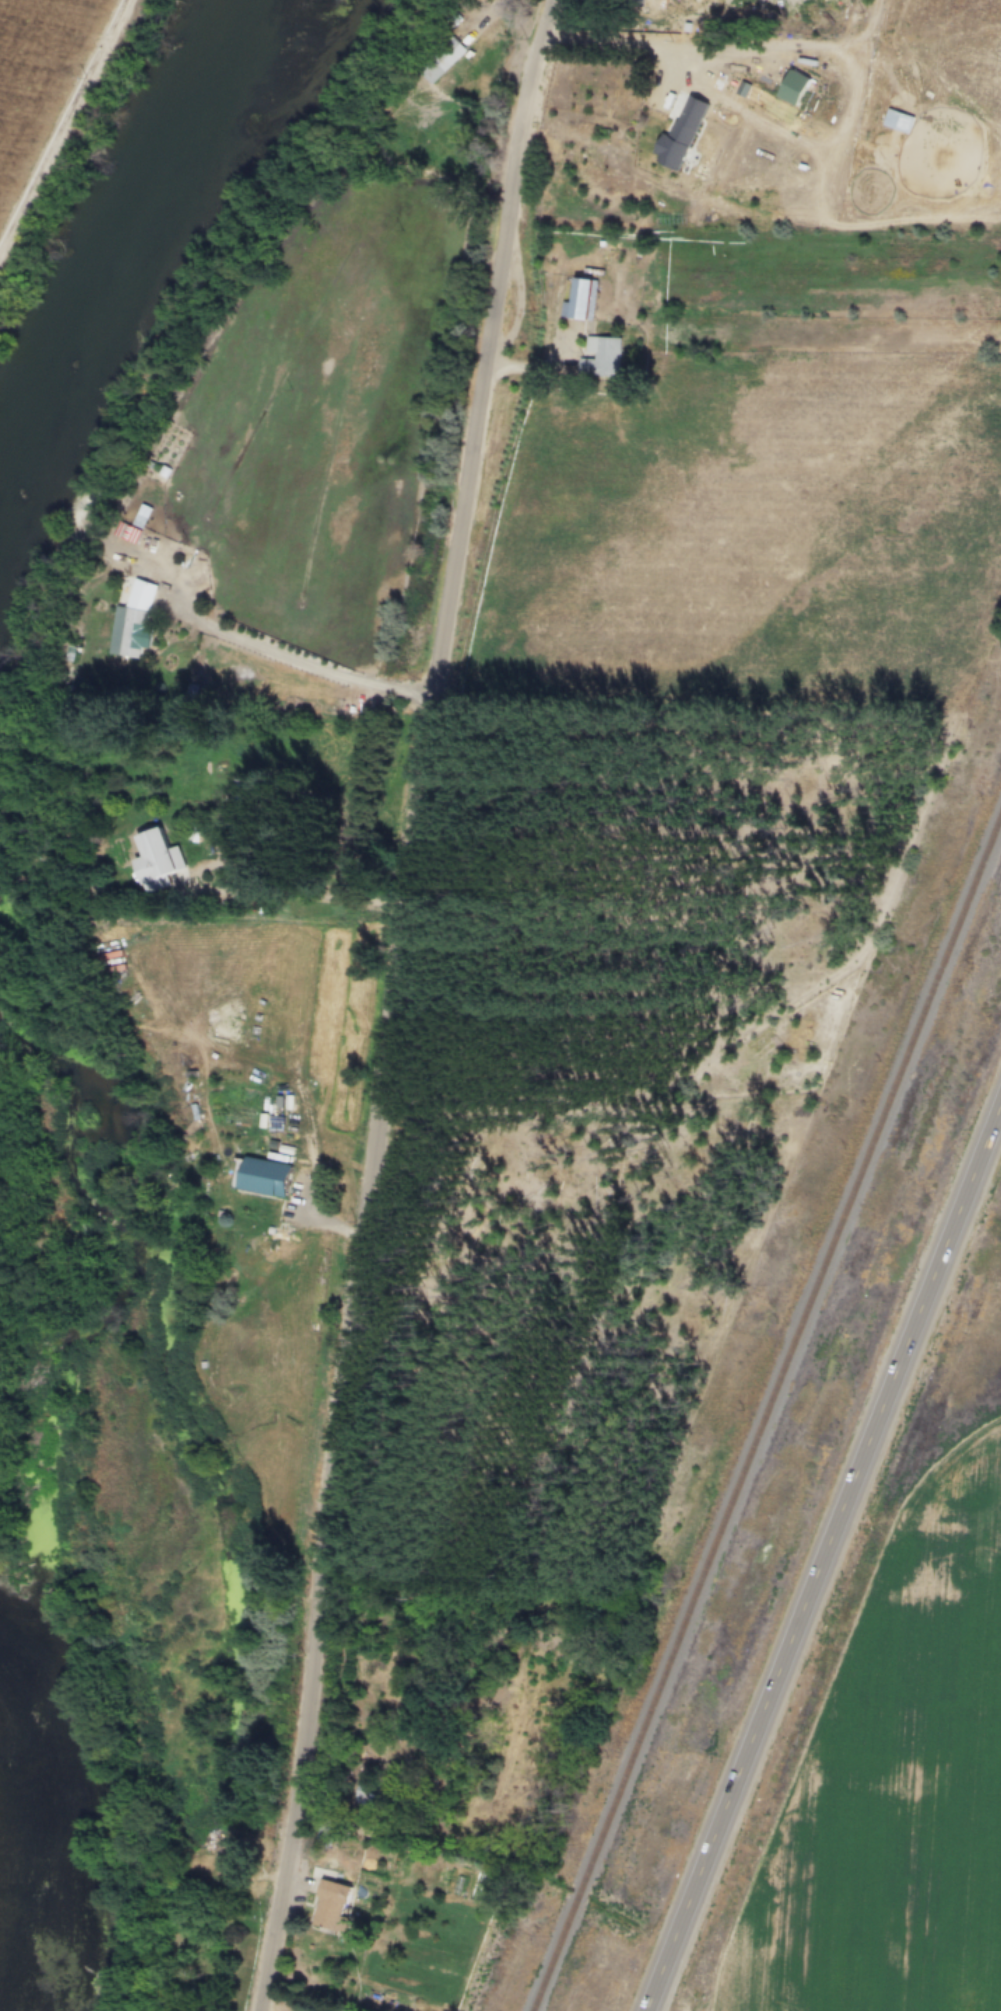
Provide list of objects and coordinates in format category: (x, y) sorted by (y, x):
building: (858, 3)
road: (642, 30)
road: (622, 34)
building: (441, 60)
building: (709, 76)
building: (678, 134)
building: (579, 298)
building: (599, 356)
building: (130, 620)
road: (299, 663)
building: (156, 861)
road: (263, 886)
road: (397, 1002)
road: (311, 1138)
building: (262, 1176)
railway: (766, 1410)
road: (823, 1555)
building: (423, 1753)
building: (363, 1794)
building: (328, 1906)

